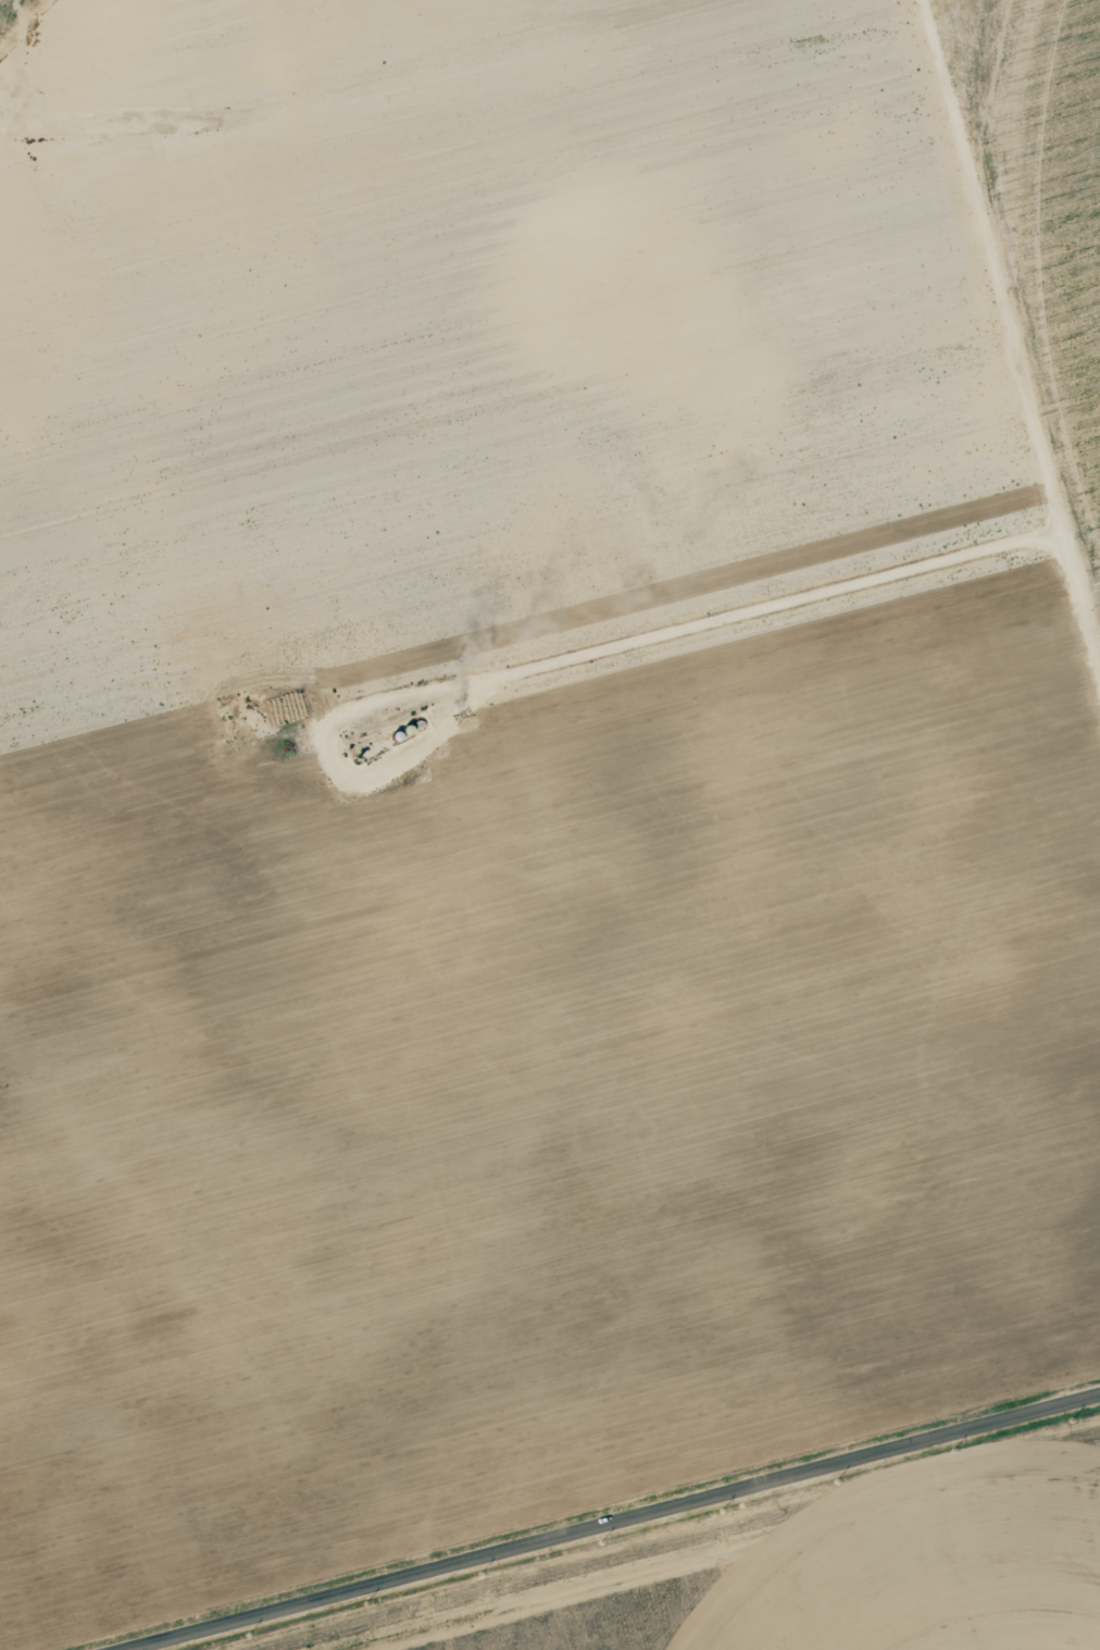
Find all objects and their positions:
road: (621, 1517)

